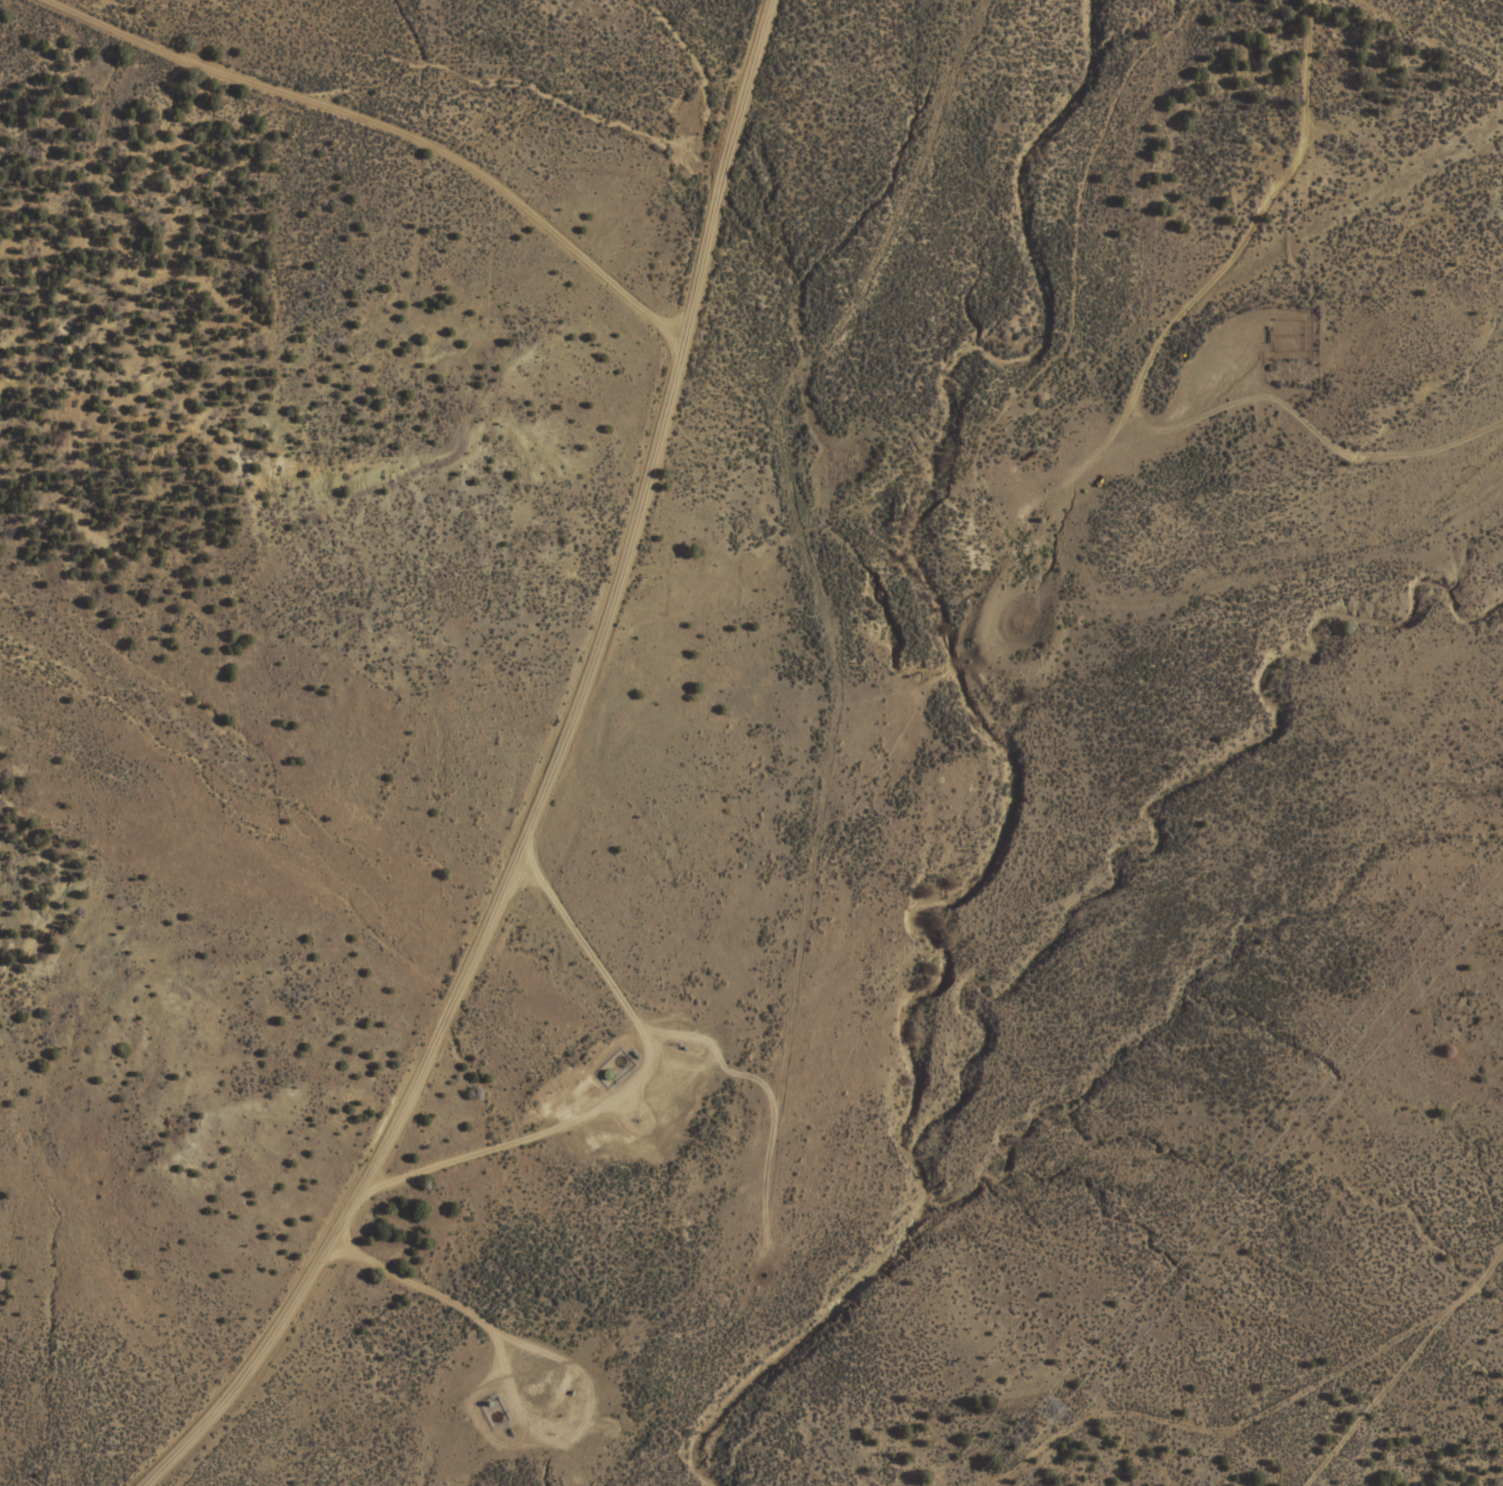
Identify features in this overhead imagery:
road: (318, 134)
river: (864, 561)
road: (801, 607)
road: (493, 784)
river: (827, 1294)
power tower: (1058, 1410)

